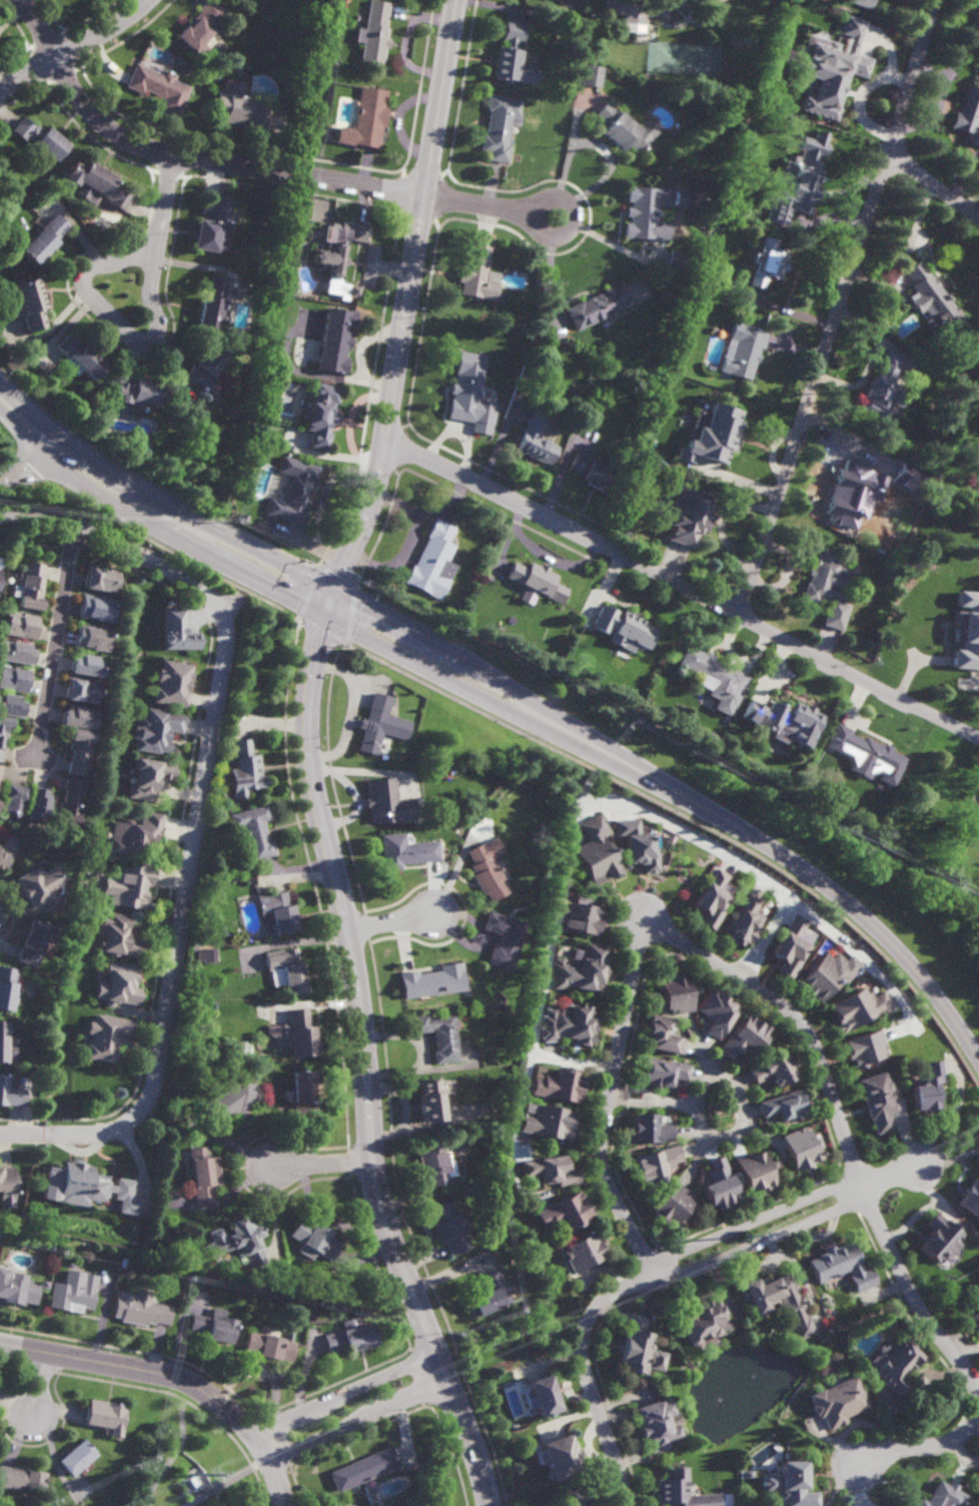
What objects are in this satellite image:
building: (860, 3)
building: (348, 4)
building: (712, 4)
building: (637, 9)
building: (976, 21)
building: (201, 26)
building: (375, 33)
road: (76, 47)
building: (513, 57)
building: (827, 67)
building: (590, 75)
building: (158, 87)
road: (442, 98)
building: (778, 101)
road: (939, 103)
building: (241, 109)
building: (968, 116)
building: (367, 120)
building: (747, 123)
building: (500, 127)
building: (626, 129)
building: (41, 136)
road: (187, 157)
building: (98, 182)
building: (803, 184)
road: (934, 187)
road: (162, 199)
road: (538, 203)
road: (479, 205)
building: (651, 211)
building: (210, 226)
building: (46, 238)
building: (339, 246)
building: (678, 263)
building: (768, 263)
building: (477, 274)
building: (355, 291)
building: (933, 298)
building: (31, 304)
building: (213, 305)
building: (598, 306)
road: (838, 308)
road: (117, 324)
building: (337, 341)
building: (744, 351)
building: (83, 357)
building: (206, 367)
building: (669, 367)
building: (881, 386)
building: (466, 387)
building: (138, 393)
building: (322, 415)
building: (711, 437)
building: (535, 442)
building: (978, 448)
road: (24, 463)
building: (592, 474)
building: (294, 491)
building: (853, 491)
building: (976, 495)
road: (321, 503)
road: (37, 512)
road: (157, 513)
building: (688, 517)
building: (244, 518)
building: (0, 560)
building: (432, 562)
building: (0, 567)
building: (927, 570)
building: (0, 573)
building: (100, 580)
building: (536, 582)
building: (29, 588)
road: (682, 588)
building: (828, 589)
road: (229, 604)
traffic signals: (331, 605)
building: (97, 609)
building: (20, 626)
building: (623, 630)
building: (967, 630)
building: (178, 633)
building: (92, 639)
road: (55, 641)
building: (15, 655)
building: (88, 667)
building: (714, 678)
building: (13, 679)
building: (173, 686)
building: (83, 693)
building: (12, 703)
building: (80, 716)
building: (784, 719)
building: (381, 724)
building: (4, 729)
building: (156, 731)
building: (81, 750)
building: (864, 754)
building: (0, 768)
building: (245, 769)
building: (148, 777)
building: (222, 795)
road: (682, 796)
building: (15, 800)
building: (72, 801)
building: (387, 801)
building: (39, 804)
building: (222, 815)
building: (456, 828)
building: (255, 830)
building: (133, 833)
building: (668, 843)
building: (637, 844)
road: (192, 849)
building: (597, 852)
road: (328, 853)
building: (408, 853)
building: (3, 859)
road: (735, 859)
building: (486, 869)
building: (37, 884)
building: (130, 885)
building: (712, 898)
building: (278, 912)
building: (581, 917)
road: (644, 920)
road: (387, 921)
building: (743, 921)
building: (202, 923)
building: (82, 928)
building: (115, 936)
building: (501, 939)
building: (34, 941)
building: (791, 946)
building: (206, 954)
road: (859, 954)
building: (580, 968)
building: (288, 969)
building: (828, 973)
building: (430, 981)
building: (117, 985)
building: (7, 987)
building: (676, 993)
building: (857, 1008)
building: (194, 1010)
building: (715, 1012)
building: (567, 1026)
building: (299, 1034)
building: (437, 1035)
building: (663, 1035)
building: (104, 1037)
building: (744, 1037)
building: (6, 1044)
building: (865, 1048)
building: (773, 1070)
building: (662, 1072)
building: (558, 1086)
road: (633, 1088)
building: (929, 1088)
building: (11, 1094)
building: (305, 1094)
building: (231, 1100)
building: (878, 1101)
building: (427, 1102)
road: (630, 1102)
road: (674, 1104)
building: (489, 1106)
road: (741, 1106)
building: (784, 1106)
building: (549, 1124)
building: (650, 1130)
building: (802, 1149)
building: (433, 1164)
road: (321, 1165)
building: (656, 1165)
building: (772, 1165)
building: (550, 1171)
building: (754, 1173)
building: (203, 1174)
road: (891, 1176)
building: (719, 1185)
building: (7, 1186)
building: (85, 1188)
building: (972, 1199)
building: (672, 1207)
building: (564, 1214)
road: (754, 1220)
building: (448, 1228)
building: (134, 1229)
power tower: (738, 1235)
road: (762, 1240)
building: (941, 1240)
building: (313, 1241)
building: (237, 1242)
building: (583, 1253)
building: (842, 1267)
building: (44, 1285)
building: (17, 1290)
building: (73, 1292)
building: (976, 1295)
building: (487, 1297)
building: (791, 1308)
building: (139, 1309)
building: (976, 1320)
building: (703, 1324)
building: (213, 1327)
building: (906, 1333)
building: (349, 1338)
building: (268, 1348)
building: (634, 1354)
road: (960, 1359)
building: (895, 1364)
road: (586, 1373)
road: (174, 1377)
road: (39, 1385)
building: (542, 1392)
road: (344, 1394)
building: (838, 1399)
building: (105, 1414)
building: (658, 1422)
road: (359, 1423)
road: (236, 1444)
building: (144, 1451)
building: (561, 1454)
road: (174, 1455)
building: (75, 1456)
building: (363, 1468)
building: (747, 1472)
power tower: (196, 1475)
building: (21, 1477)
road: (226, 1482)
building: (791, 1482)
building: (683, 1489)
building: (941, 1496)
building: (340, 1504)
building: (580, 1505)

